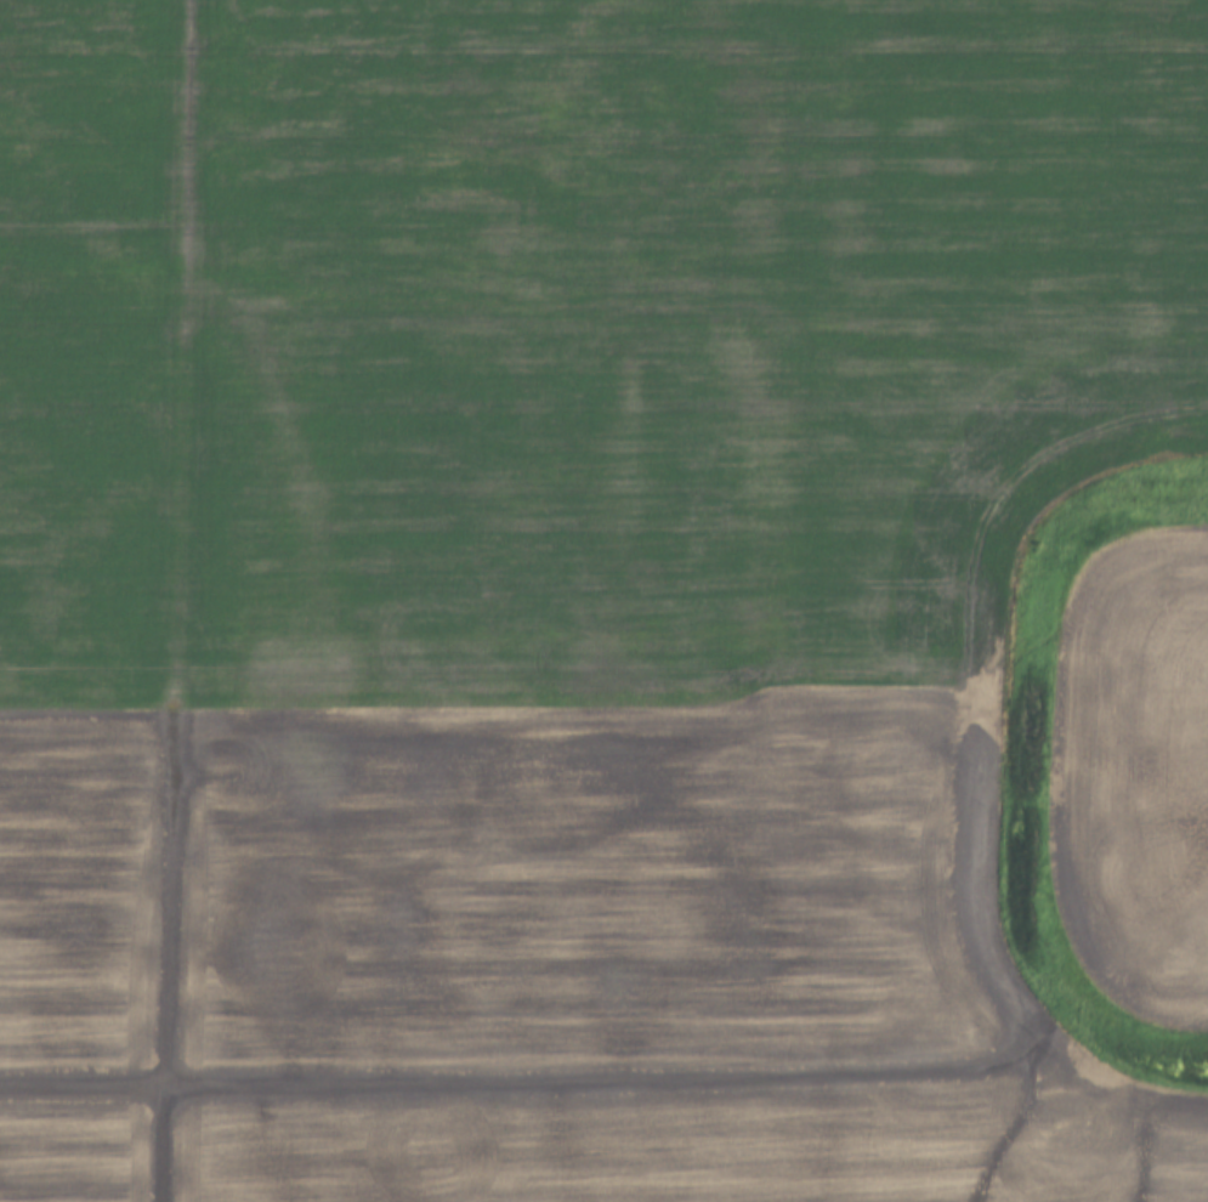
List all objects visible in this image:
crop: (555, 583)
crop: (1141, 772)

